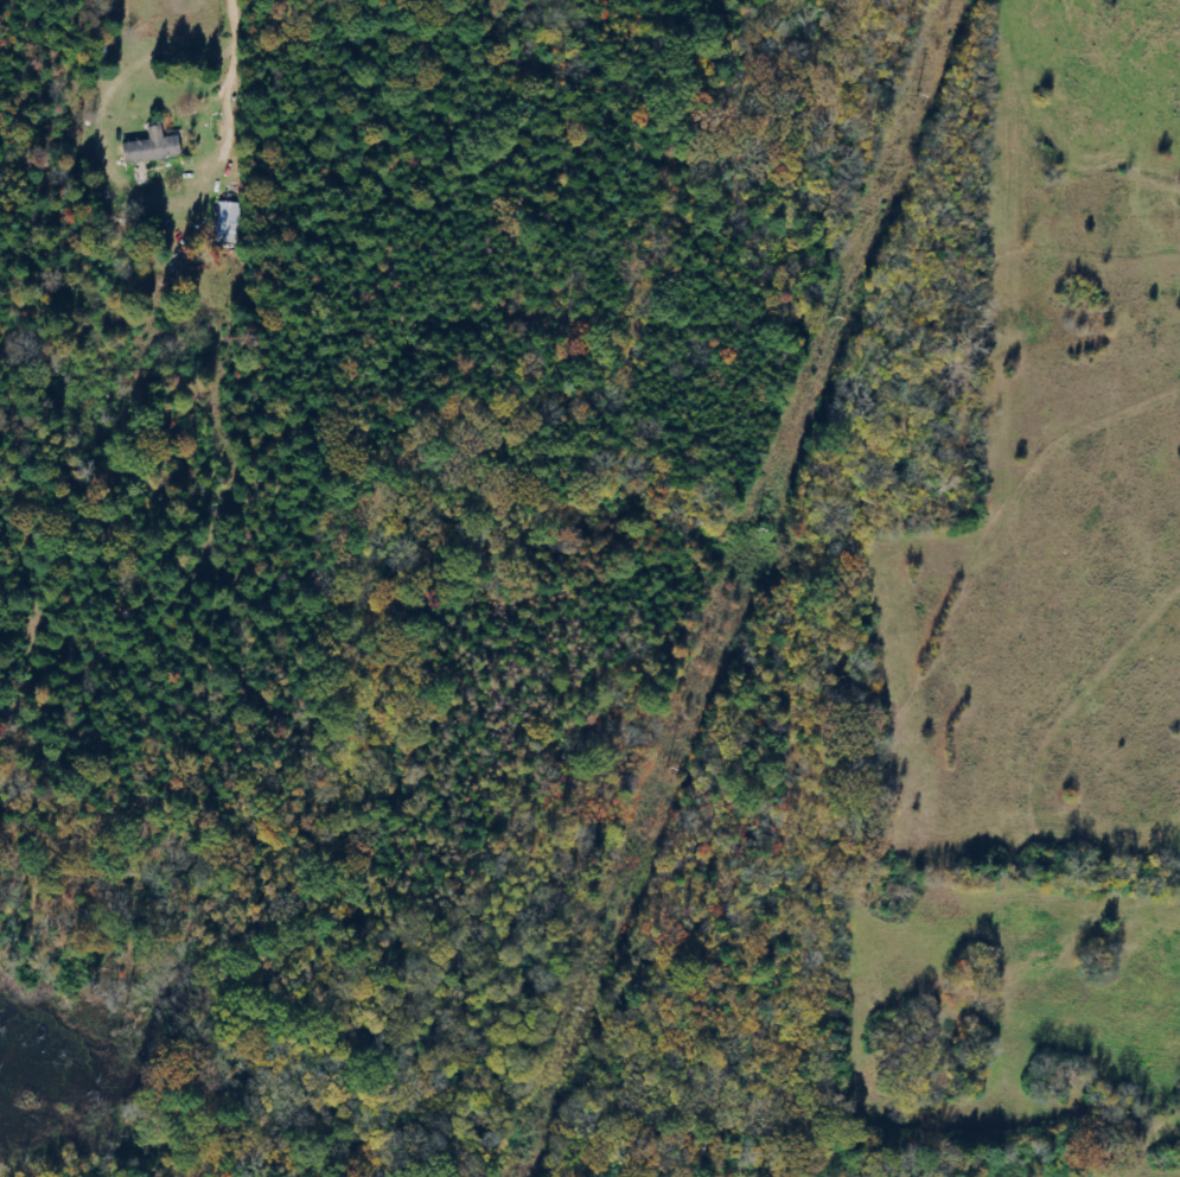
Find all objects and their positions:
building: (158, 148)
building: (230, 223)

